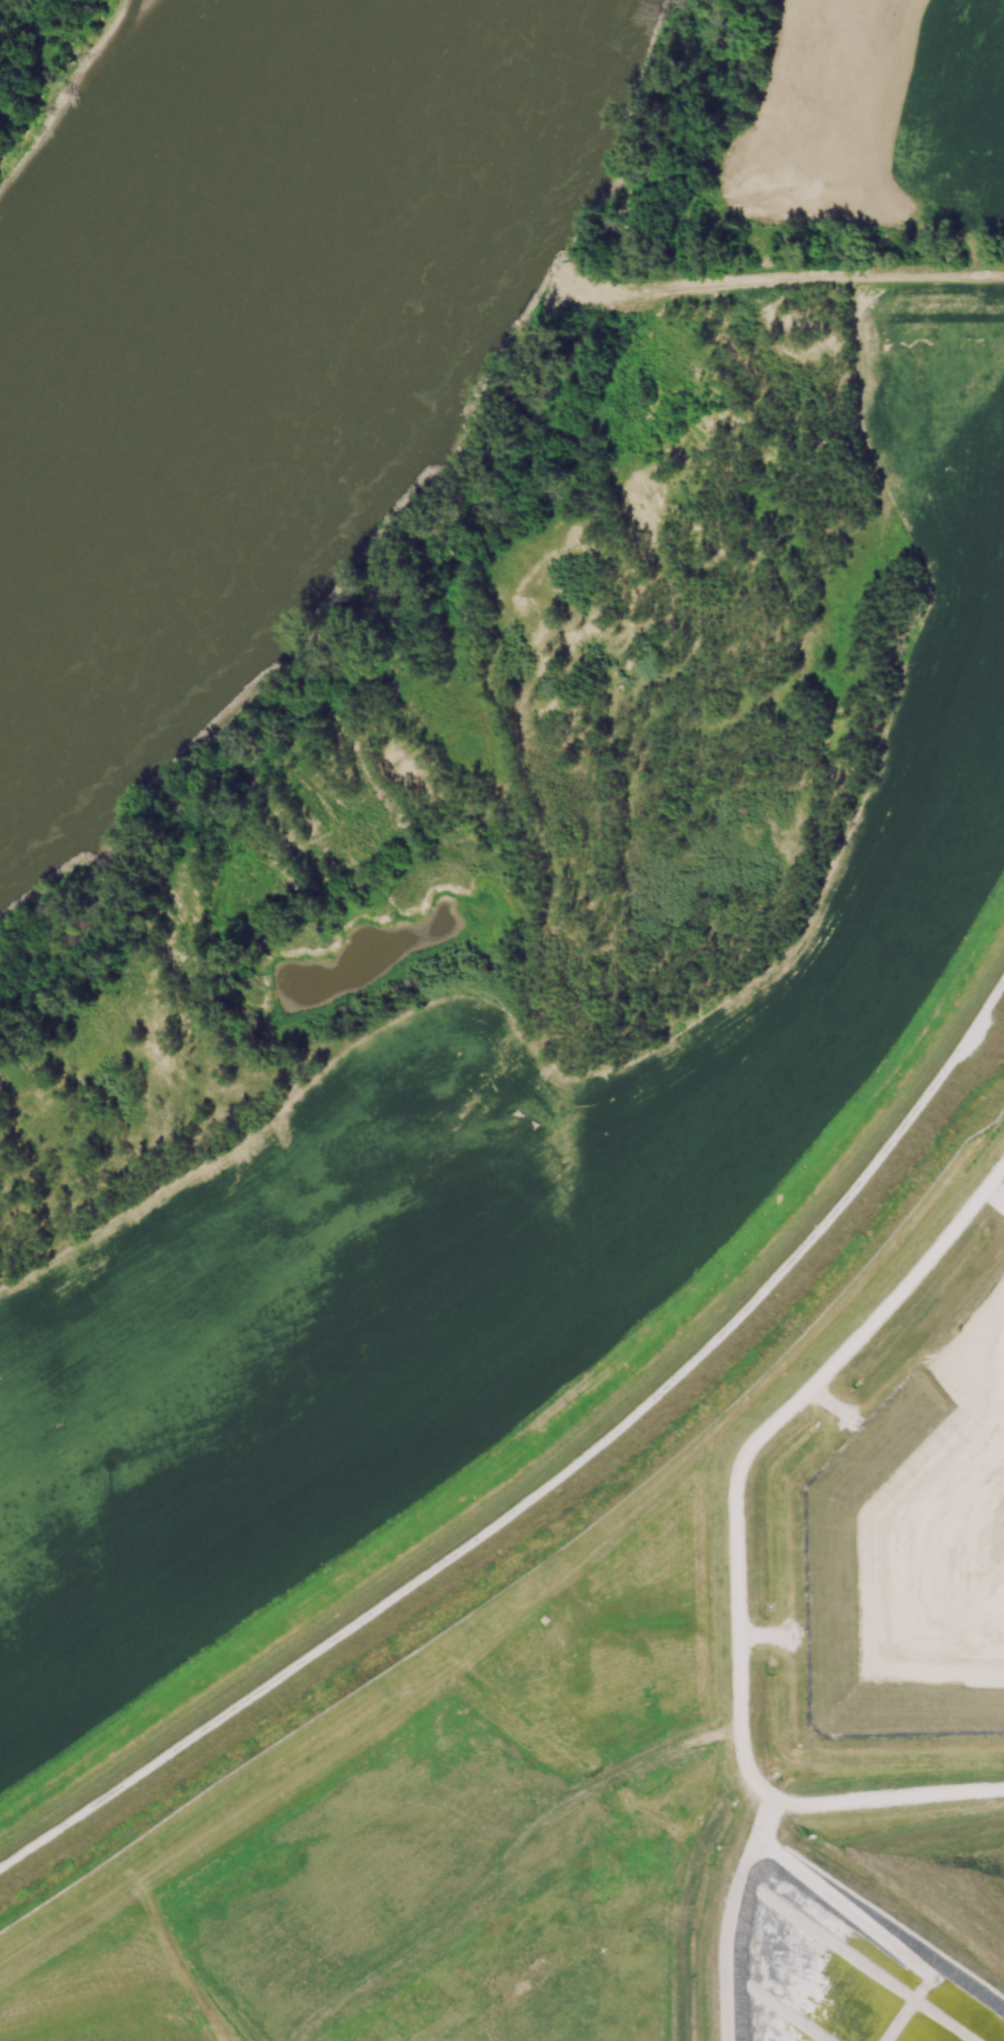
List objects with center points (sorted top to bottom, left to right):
river: (237, 323)
road: (558, 1464)

